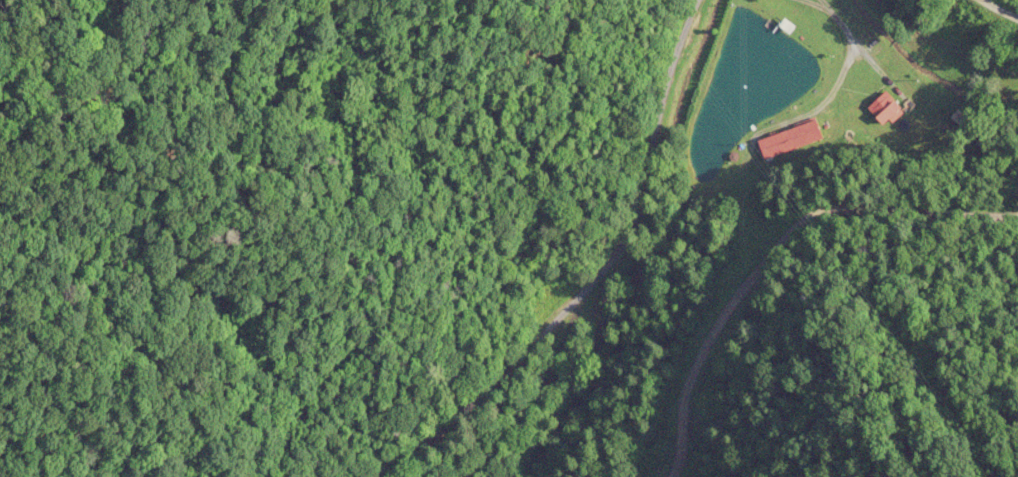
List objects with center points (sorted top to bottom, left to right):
building: (885, 106)
building: (791, 138)

